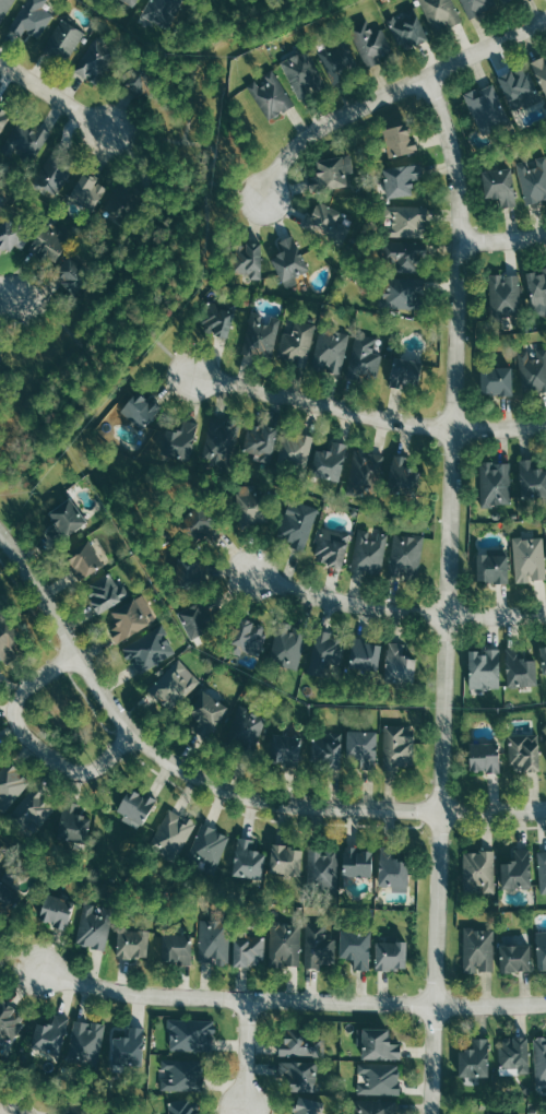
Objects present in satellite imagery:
building: (133, 1)
building: (477, 5)
road: (272, 7)
building: (4, 8)
building: (161, 11)
building: (440, 14)
building: (31, 19)
building: (408, 28)
building: (66, 39)
building: (370, 43)
building: (302, 73)
building: (541, 73)
building: (136, 80)
building: (519, 87)
road: (390, 93)
road: (56, 94)
building: (271, 94)
building: (486, 107)
building: (5, 114)
building: (28, 140)
building: (399, 141)
building: (332, 173)
building: (54, 175)
building: (400, 179)
building: (533, 179)
building: (499, 186)
road: (230, 189)
building: (87, 190)
building: (1, 209)
building: (405, 221)
road: (181, 223)
building: (328, 223)
building: (17, 229)
road: (502, 239)
building: (46, 244)
building: (402, 254)
building: (247, 260)
building: (288, 260)
building: (72, 273)
road: (10, 292)
building: (537, 292)
building: (402, 293)
building: (505, 295)
building: (217, 321)
road: (66, 330)
building: (261, 335)
building: (298, 342)
road: (163, 349)
building: (331, 349)
building: (364, 358)
building: (533, 370)
building: (404, 374)
building: (496, 381)
road: (321, 403)
building: (141, 410)
road: (499, 428)
building: (180, 441)
building: (261, 441)
building: (221, 443)
building: (296, 450)
building: (329, 462)
building: (369, 467)
building: (403, 475)
building: (531, 481)
building: (496, 484)
building: (249, 505)
building: (64, 517)
building: (199, 525)
building: (298, 526)
building: (331, 547)
building: (369, 553)
building: (406, 554)
building: (529, 559)
building: (84, 561)
building: (491, 567)
building: (187, 574)
road: (444, 593)
building: (106, 596)
road: (345, 601)
road: (495, 615)
building: (131, 618)
building: (197, 619)
building: (247, 637)
building: (7, 641)
building: (287, 647)
building: (150, 649)
building: (324, 653)
building: (365, 655)
building: (543, 660)
building: (399, 665)
building: (484, 669)
building: (519, 669)
building: (0, 671)
building: (174, 685)
building: (206, 714)
building: (246, 727)
road: (35, 735)
building: (545, 740)
building: (396, 747)
building: (361, 748)
building: (285, 750)
building: (524, 750)
building: (328, 751)
building: (483, 758)
road: (213, 783)
building: (11, 784)
building: (134, 806)
building: (35, 809)
building: (72, 825)
building: (174, 834)
building: (210, 844)
building: (247, 861)
building: (284, 861)
building: (356, 863)
building: (322, 868)
building: (517, 870)
building: (542, 872)
building: (391, 873)
building: (478, 873)
building: (10, 897)
building: (56, 911)
building: (94, 928)
building: (214, 944)
building: (132, 945)
building: (284, 945)
building: (319, 947)
building: (176, 948)
building: (248, 950)
building: (355, 950)
building: (478, 950)
building: (541, 950)
building: (390, 957)
building: (513, 957)
road: (290, 1002)
building: (9, 1022)
building: (50, 1035)
building: (191, 1035)
building: (87, 1041)
building: (299, 1045)
building: (379, 1045)
building: (128, 1046)
road: (244, 1054)
building: (513, 1055)
building: (539, 1059)
building: (474, 1060)
building: (182, 1075)
building: (298, 1077)
building: (379, 1079)
building: (183, 1106)
building: (306, 1106)
building: (370, 1107)

